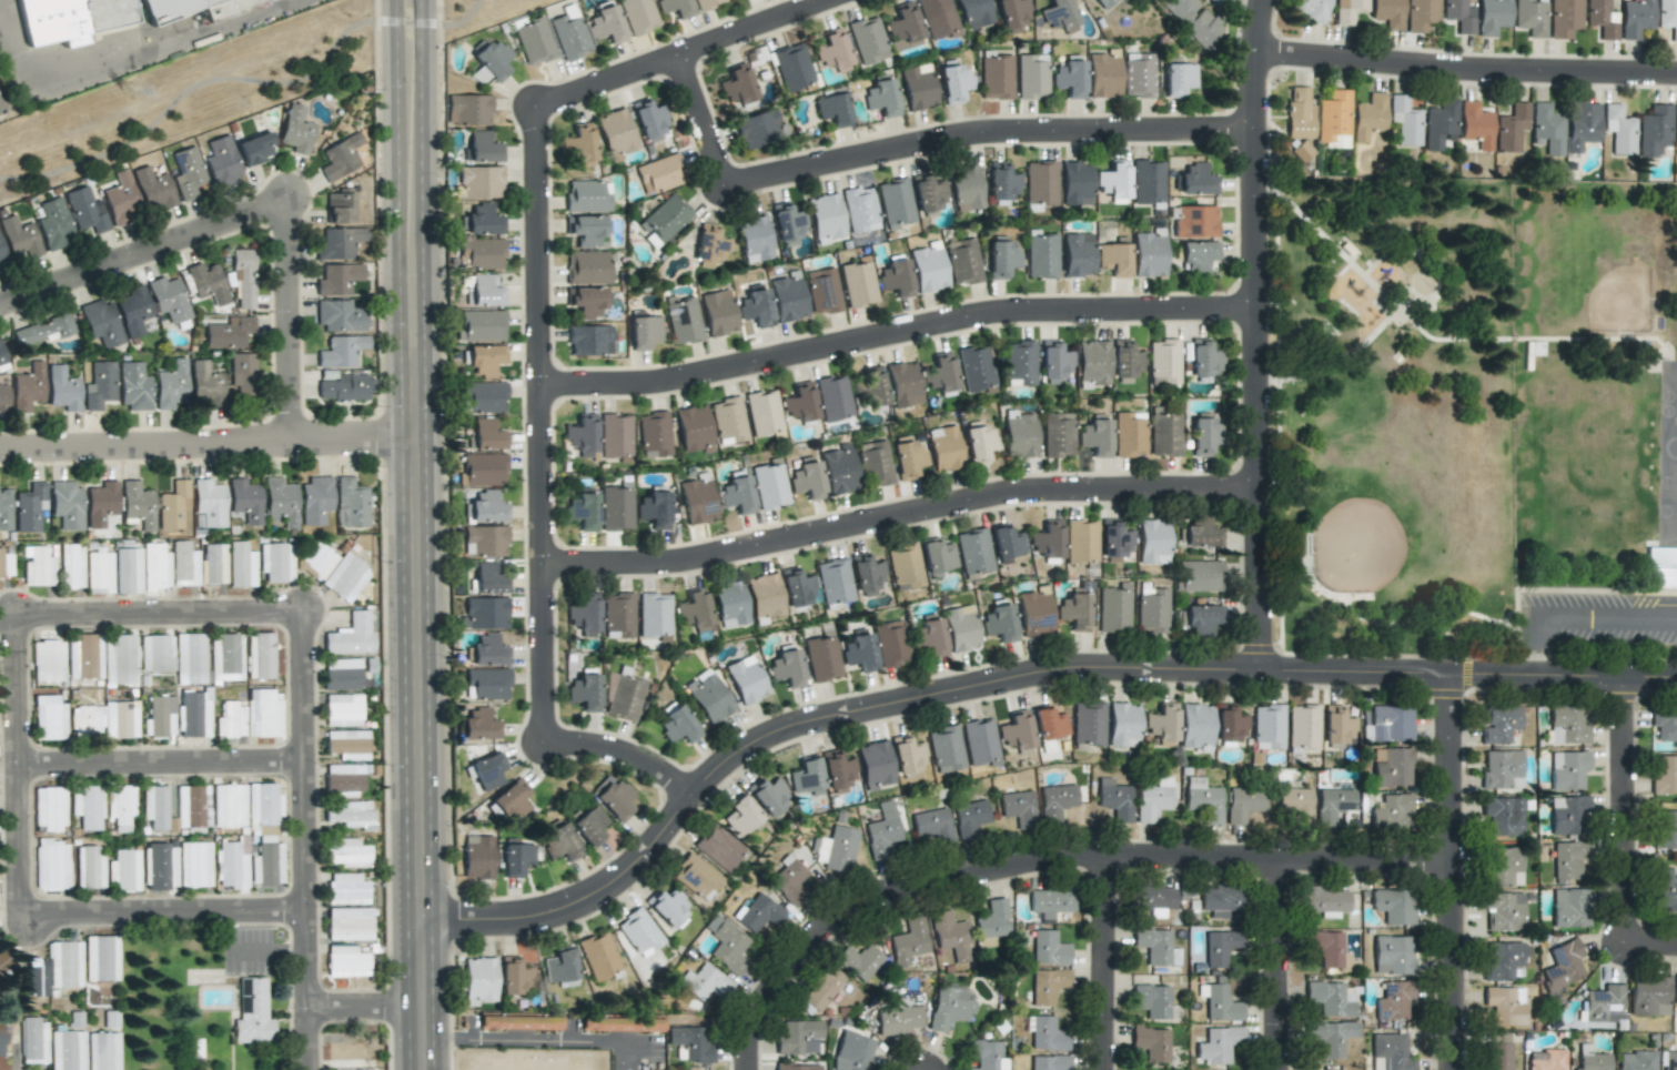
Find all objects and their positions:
building: (706, 3)
building: (1107, 3)
road: (1253, 7)
building: (194, 8)
building: (676, 8)
building: (1312, 10)
building: (1348, 10)
building: (974, 13)
building: (1388, 13)
building: (1012, 14)
building: (1422, 14)
building: (638, 16)
building: (1059, 16)
building: (1459, 16)
building: (1492, 17)
building: (1667, 17)
building: (1530, 18)
building: (1564, 18)
building: (1636, 18)
building: (70, 19)
building: (938, 19)
building: (1602, 19)
building: (1194, 21)
building: (606, 26)
building: (903, 28)
building: (569, 34)
building: (868, 40)
building: (534, 41)
road: (143, 50)
building: (834, 51)
road: (684, 53)
building: (492, 62)
building: (792, 67)
road: (1465, 73)
building: (1139, 75)
building: (1031, 77)
building: (1103, 77)
building: (996, 78)
building: (1070, 78)
building: (1179, 79)
road: (221, 82)
building: (953, 82)
building: (737, 85)
building: (918, 87)
power tower: (129, 94)
building: (882, 98)
building: (0, 109)
building: (468, 110)
building: (834, 110)
building: (1300, 113)
building: (1368, 117)
building: (649, 120)
building: (1333, 120)
road: (700, 121)
building: (1405, 121)
building: (1439, 124)
building: (1582, 124)
building: (1476, 125)
building: (1676, 125)
building: (1511, 128)
building: (1548, 128)
building: (758, 129)
building: (296, 130)
building: (1619, 130)
building: (1654, 130)
building: (616, 133)
road: (986, 135)
building: (580, 144)
building: (256, 148)
building: (482, 148)
building: (1301, 151)
building: (341, 158)
building: (222, 163)
building: (189, 174)
building: (659, 174)
building: (1196, 180)
building: (1002, 181)
building: (479, 182)
building: (1040, 182)
building: (1114, 182)
building: (1146, 182)
building: (1075, 184)
building: (964, 188)
building: (154, 189)
building: (928, 193)
building: (587, 196)
building: (122, 199)
building: (896, 203)
building: (340, 209)
building: (860, 210)
building: (87, 211)
building: (826, 218)
building: (665, 219)
building: (482, 221)
building: (1195, 222)
building: (54, 224)
building: (788, 224)
building: (586, 230)
road: (1319, 231)
road: (145, 236)
building: (20, 239)
building: (754, 239)
building: (339, 243)
building: (709, 246)
building: (1348, 248)
road: (1414, 252)
building: (481, 254)
building: (1077, 254)
building: (1148, 254)
building: (1196, 255)
building: (1041, 256)
building: (2, 258)
building: (1002, 259)
building: (1113, 259)
building: (962, 261)
park: (1586, 266)
building: (588, 267)
building: (928, 267)
road: (1345, 269)
building: (896, 277)
building: (243, 279)
building: (339, 280)
building: (208, 283)
building: (858, 284)
building: (483, 291)
building: (822, 291)
building: (788, 297)
building: (169, 300)
building: (587, 301)
road: (291, 303)
building: (756, 307)
building: (133, 311)
building: (718, 312)
building: (340, 316)
building: (683, 320)
building: (101, 323)
building: (481, 326)
building: (44, 330)
building: (644, 332)
building: (229, 333)
road: (897, 334)
road: (1259, 334)
road: (1521, 340)
building: (589, 341)
building: (341, 351)
building: (2, 356)
building: (1125, 359)
building: (485, 360)
building: (1204, 360)
building: (1053, 362)
building: (1163, 362)
building: (1019, 363)
building: (1092, 363)
road: (1335, 363)
building: (976, 369)
building: (940, 373)
building: (242, 375)
park: (1676, 378)
building: (206, 384)
building: (903, 384)
building: (100, 385)
building: (172, 385)
building: (134, 386)
building: (345, 386)
building: (28, 387)
building: (869, 387)
building: (63, 390)
building: (3, 396)
building: (483, 397)
building: (834, 397)
building: (800, 402)
building: (764, 413)
building: (728, 421)
park: (1390, 421)
road: (205, 423)
road: (538, 424)
building: (694, 430)
building: (1164, 433)
building: (1129, 434)
building: (583, 435)
building: (654, 435)
building: (1019, 435)
building: (1058, 435)
building: (486, 436)
building: (616, 436)
building: (1203, 436)
building: (1094, 437)
building: (980, 444)
building: (944, 448)
building: (908, 460)
building: (875, 464)
building: (484, 470)
building: (839, 470)
building: (807, 478)
building: (770, 486)
building: (737, 495)
park: (1675, 495)
building: (315, 499)
building: (245, 501)
building: (697, 501)
building: (101, 503)
building: (280, 503)
building: (351, 503)
building: (67, 504)
building: (209, 504)
building: (138, 505)
building: (173, 505)
building: (30, 507)
building: (485, 508)
building: (616, 509)
building: (4, 511)
building: (654, 511)
building: (583, 512)
road: (900, 514)
park: (1375, 526)
building: (1201, 532)
road: (413, 535)
building: (1048, 539)
building: (484, 541)
building: (1081, 541)
building: (1113, 541)
building: (1153, 542)
building: (1008, 545)
building: (973, 552)
building: (938, 557)
building: (317, 559)
building: (275, 562)
building: (183, 564)
building: (213, 564)
building: (4, 565)
building: (241, 565)
building: (38, 566)
building: (71, 566)
building: (154, 567)
building: (905, 567)
building: (1661, 567)
building: (128, 571)
building: (99, 573)
building: (867, 574)
building: (1199, 576)
building: (345, 578)
building: (834, 582)
building: (796, 587)
building: (765, 596)
road: (161, 603)
building: (730, 604)
building: (1113, 608)
road: (1578, 608)
building: (1152, 609)
building: (695, 610)
building: (1074, 612)
building: (485, 614)
building: (1034, 614)
building: (585, 615)
building: (654, 615)
building: (618, 616)
building: (1200, 619)
road: (1376, 620)
building: (999, 624)
parking lot: (1598, 625)
building: (961, 628)
building: (351, 636)
building: (930, 637)
building: (890, 643)
building: (489, 652)
building: (859, 653)
building: (155, 654)
building: (81, 656)
building: (260, 656)
building: (225, 657)
building: (190, 658)
building: (821, 658)
building: (48, 660)
building: (119, 660)
building: (786, 668)
building: (342, 674)
building: (746, 679)
road: (1010, 679)
building: (486, 684)
building: (585, 693)
building: (709, 697)
building: (625, 698)
building: (343, 710)
building: (193, 714)
building: (263, 714)
building: (159, 717)
building: (49, 718)
building: (120, 719)
building: (230, 720)
building: (85, 721)
building: (1050, 724)
building: (1089, 724)
building: (1163, 724)
building: (1230, 724)
building: (1388, 724)
building: (1499, 724)
building: (477, 725)
building: (1123, 725)
building: (1567, 725)
building: (678, 726)
building: (1336, 726)
building: (1195, 727)
building: (1269, 727)
building: (1303, 727)
building: (1665, 727)
building: (1017, 731)
building: (981, 743)
building: (347, 744)
building: (946, 748)
road: (622, 750)
building: (908, 756)
road: (161, 764)
road: (20, 765)
building: (876, 765)
building: (1391, 767)
building: (1502, 769)
building: (1567, 769)
building: (488, 771)
building: (838, 771)
building: (1664, 775)
building: (807, 777)
building: (344, 778)
building: (769, 795)
building: (613, 798)
building: (512, 799)
building: (1115, 799)
building: (1153, 799)
building: (1203, 800)
building: (1055, 801)
building: (1243, 804)
building: (1295, 804)
building: (263, 805)
building: (1332, 805)
building: (87, 806)
building: (192, 806)
building: (229, 806)
building: (120, 807)
building: (154, 807)
building: (49, 808)
road: (1626, 808)
building: (1019, 809)
building: (1392, 814)
building: (352, 815)
building: (1568, 815)
building: (1503, 816)
building: (741, 817)
building: (970, 818)
building: (589, 826)
building: (931, 827)
building: (1665, 829)
building: (883, 831)
road: (303, 835)
building: (560, 844)
building: (719, 848)
building: (836, 849)
building: (347, 854)
road: (1044, 856)
building: (477, 857)
building: (516, 858)
building: (1568, 859)
building: (51, 865)
building: (194, 865)
building: (232, 865)
building: (266, 865)
building: (160, 867)
building: (1503, 867)
building: (89, 868)
building: (123, 871)
road: (1453, 871)
building: (697, 877)
building: (790, 880)
building: (346, 889)
building: (1664, 890)
building: (1153, 898)
building: (1221, 900)
building: (1325, 901)
building: (1051, 902)
building: (1394, 906)
building: (668, 908)
building: (1569, 908)
building: (1504, 911)
building: (759, 913)
building: (993, 920)
road: (162, 921)
building: (348, 925)
building: (640, 932)
building: (950, 935)
road: (1653, 940)
building: (910, 941)
building: (727, 945)
building: (1156, 947)
building: (1221, 947)
building: (1326, 947)
road: (264, 948)
building: (1049, 949)
building: (1392, 955)
building: (599, 956)
building: (101, 958)
building: (346, 961)
road: (1104, 961)
building: (1505, 961)
building: (860, 962)
building: (4, 963)
road: (1279, 963)
building: (64, 965)
building: (560, 966)
building: (1563, 966)
building: (516, 977)
building: (479, 980)
building: (704, 985)
building: (1048, 986)
building: (822, 988)
building: (1676, 993)
building: (1649, 996)
building: (1332, 998)
building: (1152, 1000)
building: (1394, 1000)
building: (1220, 1003)
building: (1604, 1003)
building: (1505, 1005)
building: (950, 1008)
road: (362, 1010)
building: (253, 1013)
building: (111, 1019)
building: (899, 1020)
building: (519, 1022)
building: (622, 1024)
building: (1047, 1034)
building: (1, 1036)
building: (799, 1037)
building: (1333, 1038)
road: (538, 1040)
building: (33, 1041)
building: (691, 1043)
building: (1151, 1043)
building: (1219, 1044)
building: (65, 1050)
building: (103, 1051)
building: (344, 1051)
building: (853, 1052)
building: (1390, 1052)
building: (1497, 1052)
building: (988, 1056)
building: (1592, 1059)
building: (1545, 1060)
building: (1636, 1060)
building: (1668, 1060)
building: (1050, 1062)
building: (798, 1067)

